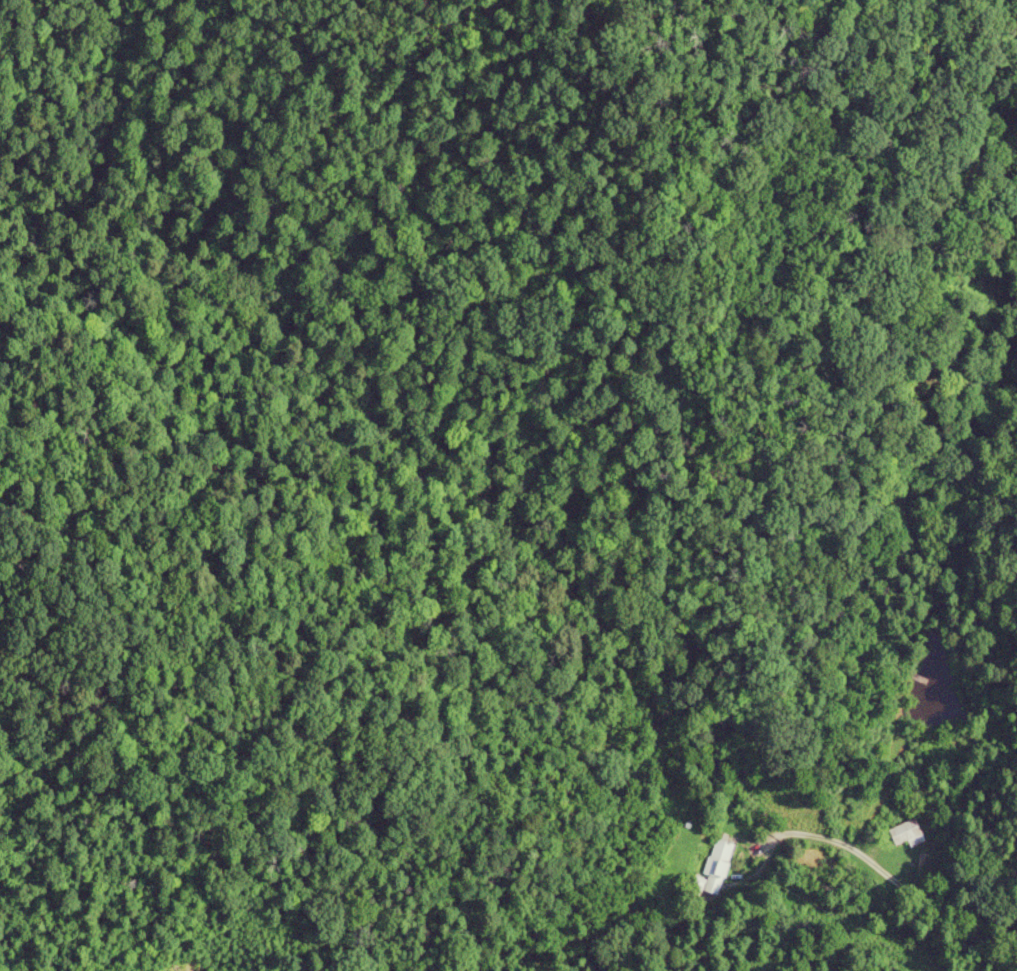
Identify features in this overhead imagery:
building: (903, 833)
building: (716, 861)
road: (854, 863)
road: (988, 937)

